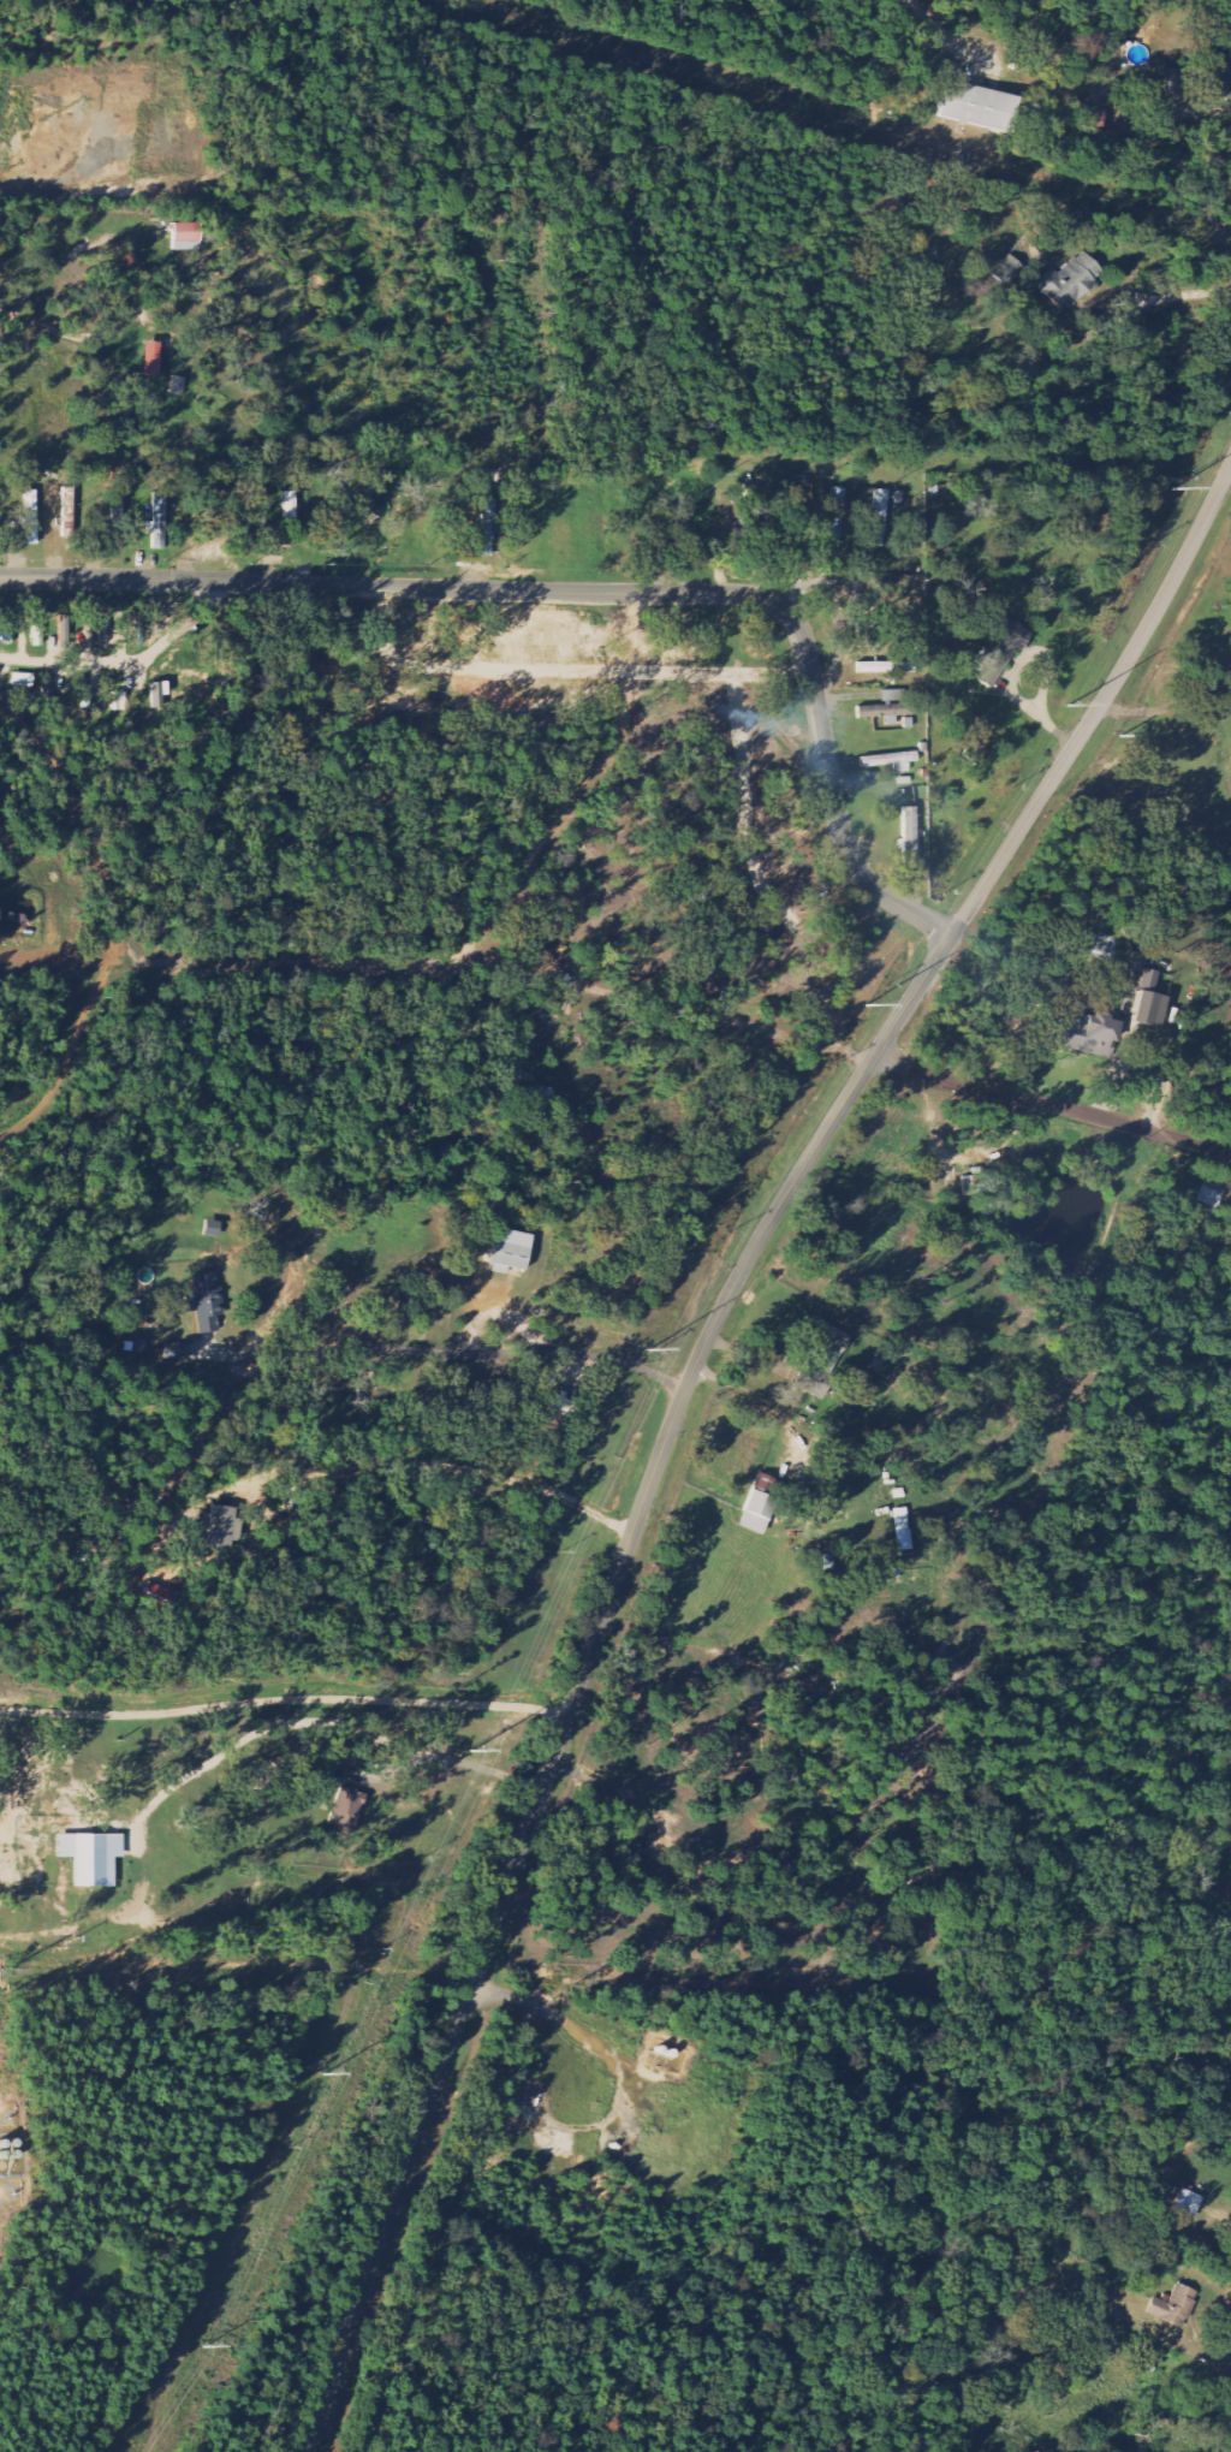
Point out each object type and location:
road: (948, 35)
building: (1212, 76)
building: (977, 106)
building: (186, 237)
building: (1070, 283)
road: (1179, 296)
building: (153, 358)
building: (177, 386)
road: (1229, 473)
power tower: (1171, 489)
building: (290, 512)
building: (837, 516)
building: (31, 517)
building: (879, 518)
building: (484, 530)
building: (157, 534)
road: (589, 592)
building: (6, 633)
building: (1000, 654)
building: (23, 681)
building: (48, 691)
building: (894, 695)
power tower: (1058, 701)
building: (886, 711)
building: (977, 754)
road: (79, 821)
building: (910, 836)
building: (1138, 962)
road: (441, 963)
building: (1150, 1002)
power tower: (861, 1003)
building: (1087, 1033)
road: (72, 1062)
road: (1052, 1105)
building: (510, 1252)
building: (206, 1302)
power tower: (648, 1350)
building: (822, 1361)
road: (676, 1412)
building: (757, 1514)
building: (224, 1530)
building: (157, 1598)
road: (284, 1703)
power tower: (470, 1749)
building: (346, 1809)
building: (93, 1859)
road: (218, 1913)
power tower: (325, 2074)
building: (1188, 2204)
building: (1174, 2308)
power tower: (202, 2346)

